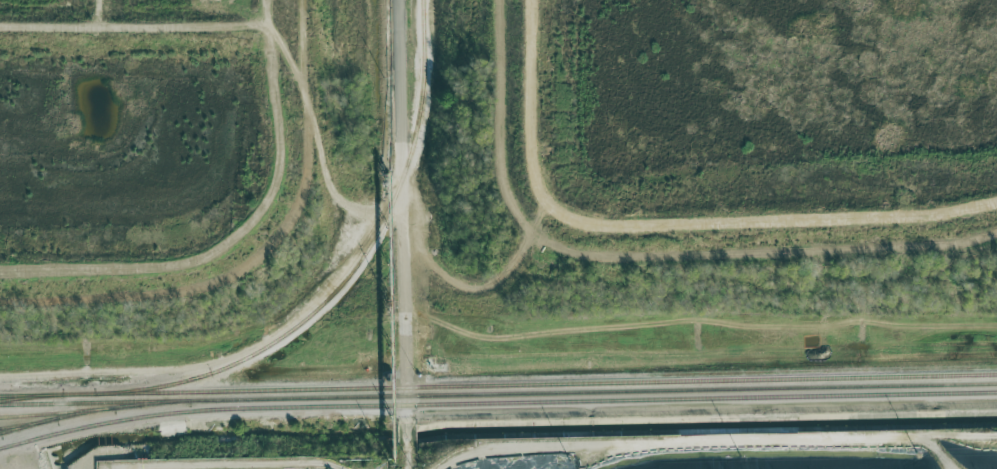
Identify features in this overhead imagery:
road: (312, 124)
road: (665, 225)
road: (403, 234)
railway: (349, 274)
road: (485, 290)
road: (234, 355)
railway: (655, 381)
railway: (604, 391)
railway: (204, 392)
railway: (46, 394)
railway: (31, 396)
railway: (83, 402)
railway: (496, 402)
railway: (104, 407)
railway: (48, 412)
railway: (19, 424)

